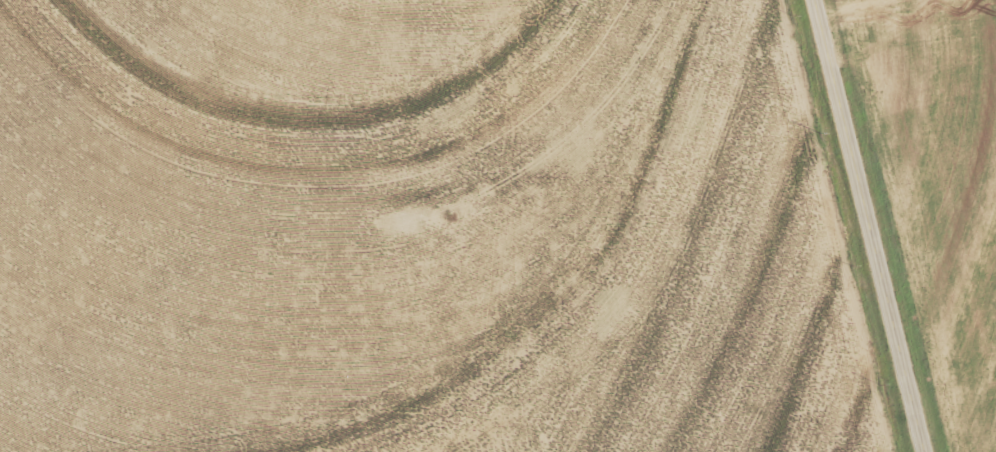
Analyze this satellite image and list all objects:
road: (873, 226)

